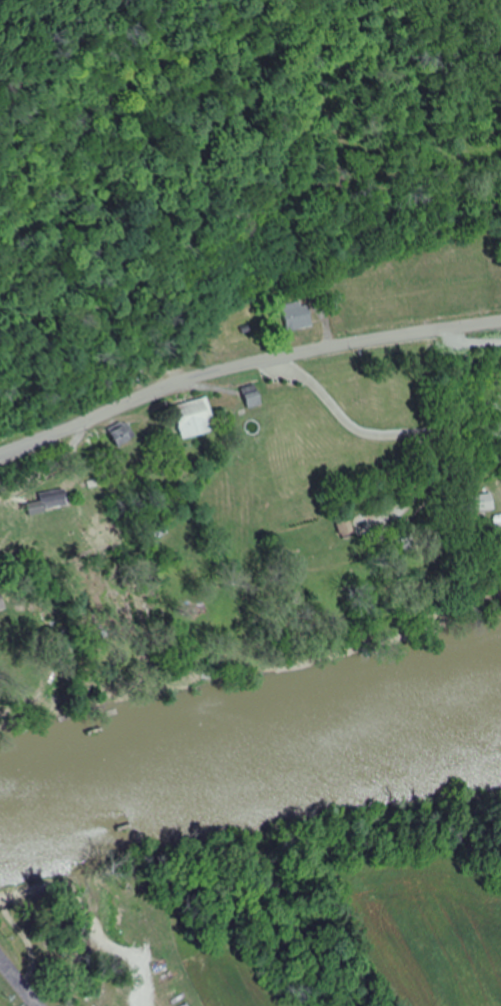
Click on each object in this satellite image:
building: (300, 316)
road: (243, 362)
building: (254, 397)
building: (197, 419)
road: (350, 420)
building: (125, 434)
building: (487, 502)
building: (351, 528)
building: (2, 602)
road: (24, 978)

